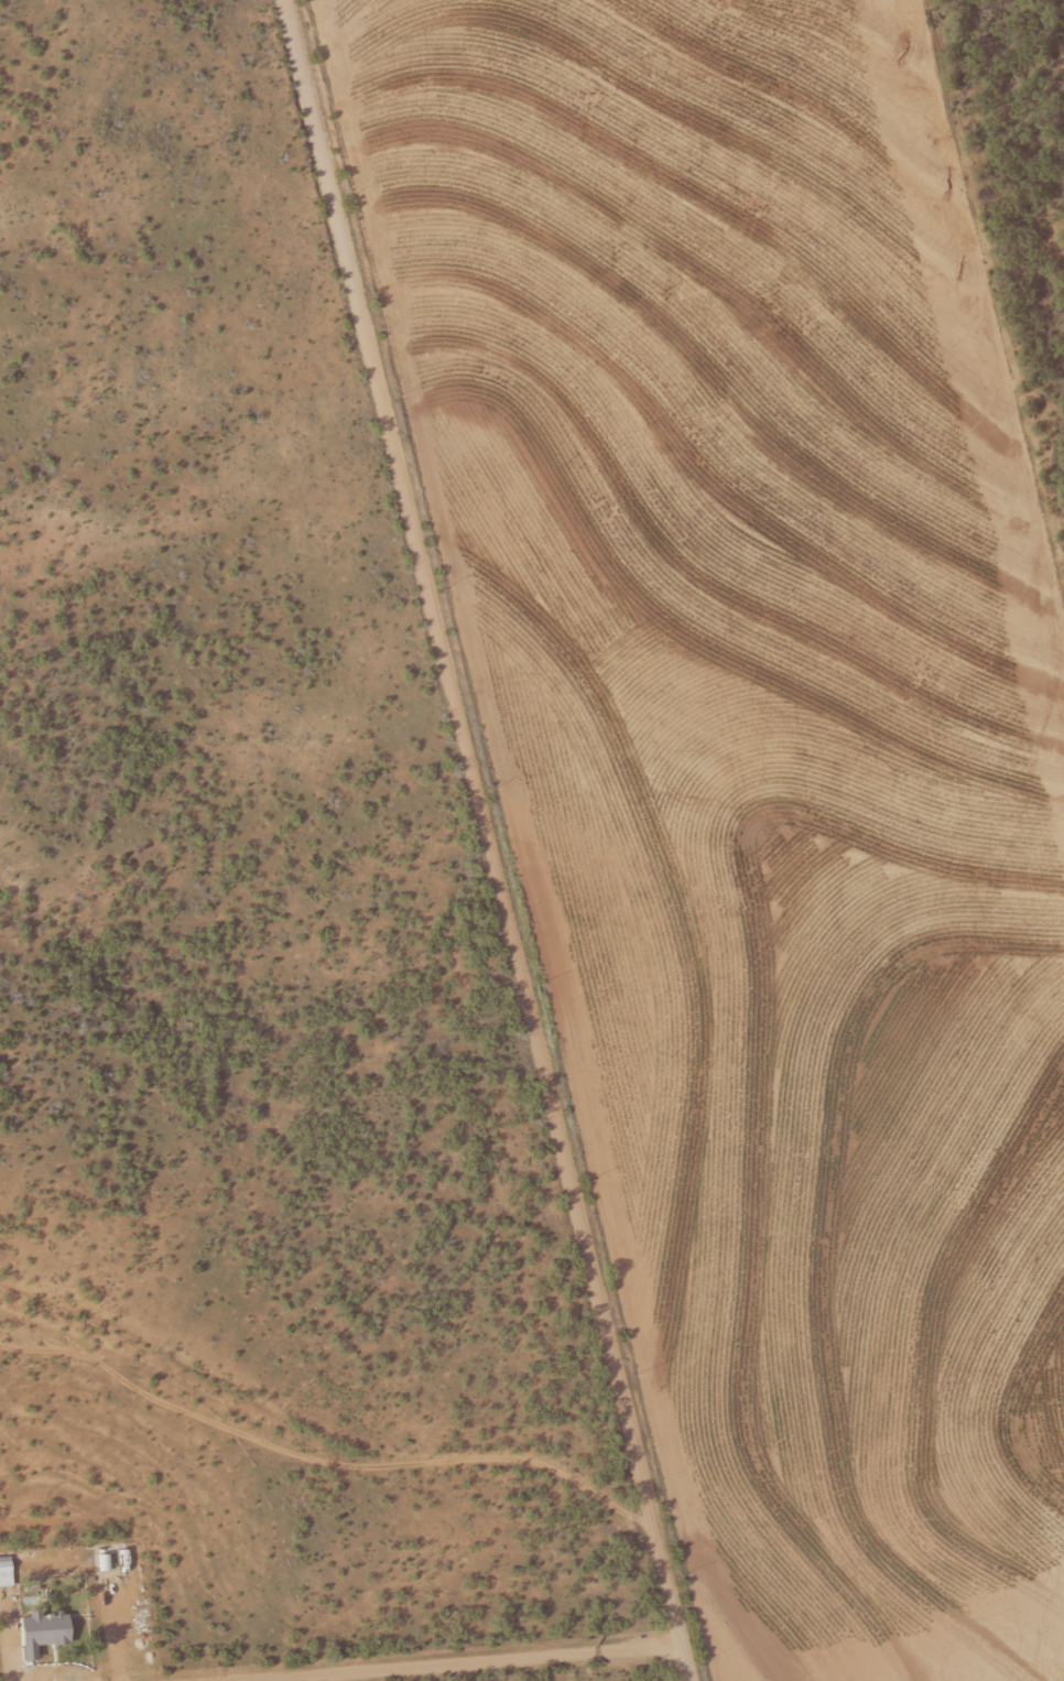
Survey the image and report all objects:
road: (462, 836)
road: (300, 1428)
building: (107, 1562)
building: (43, 1633)

